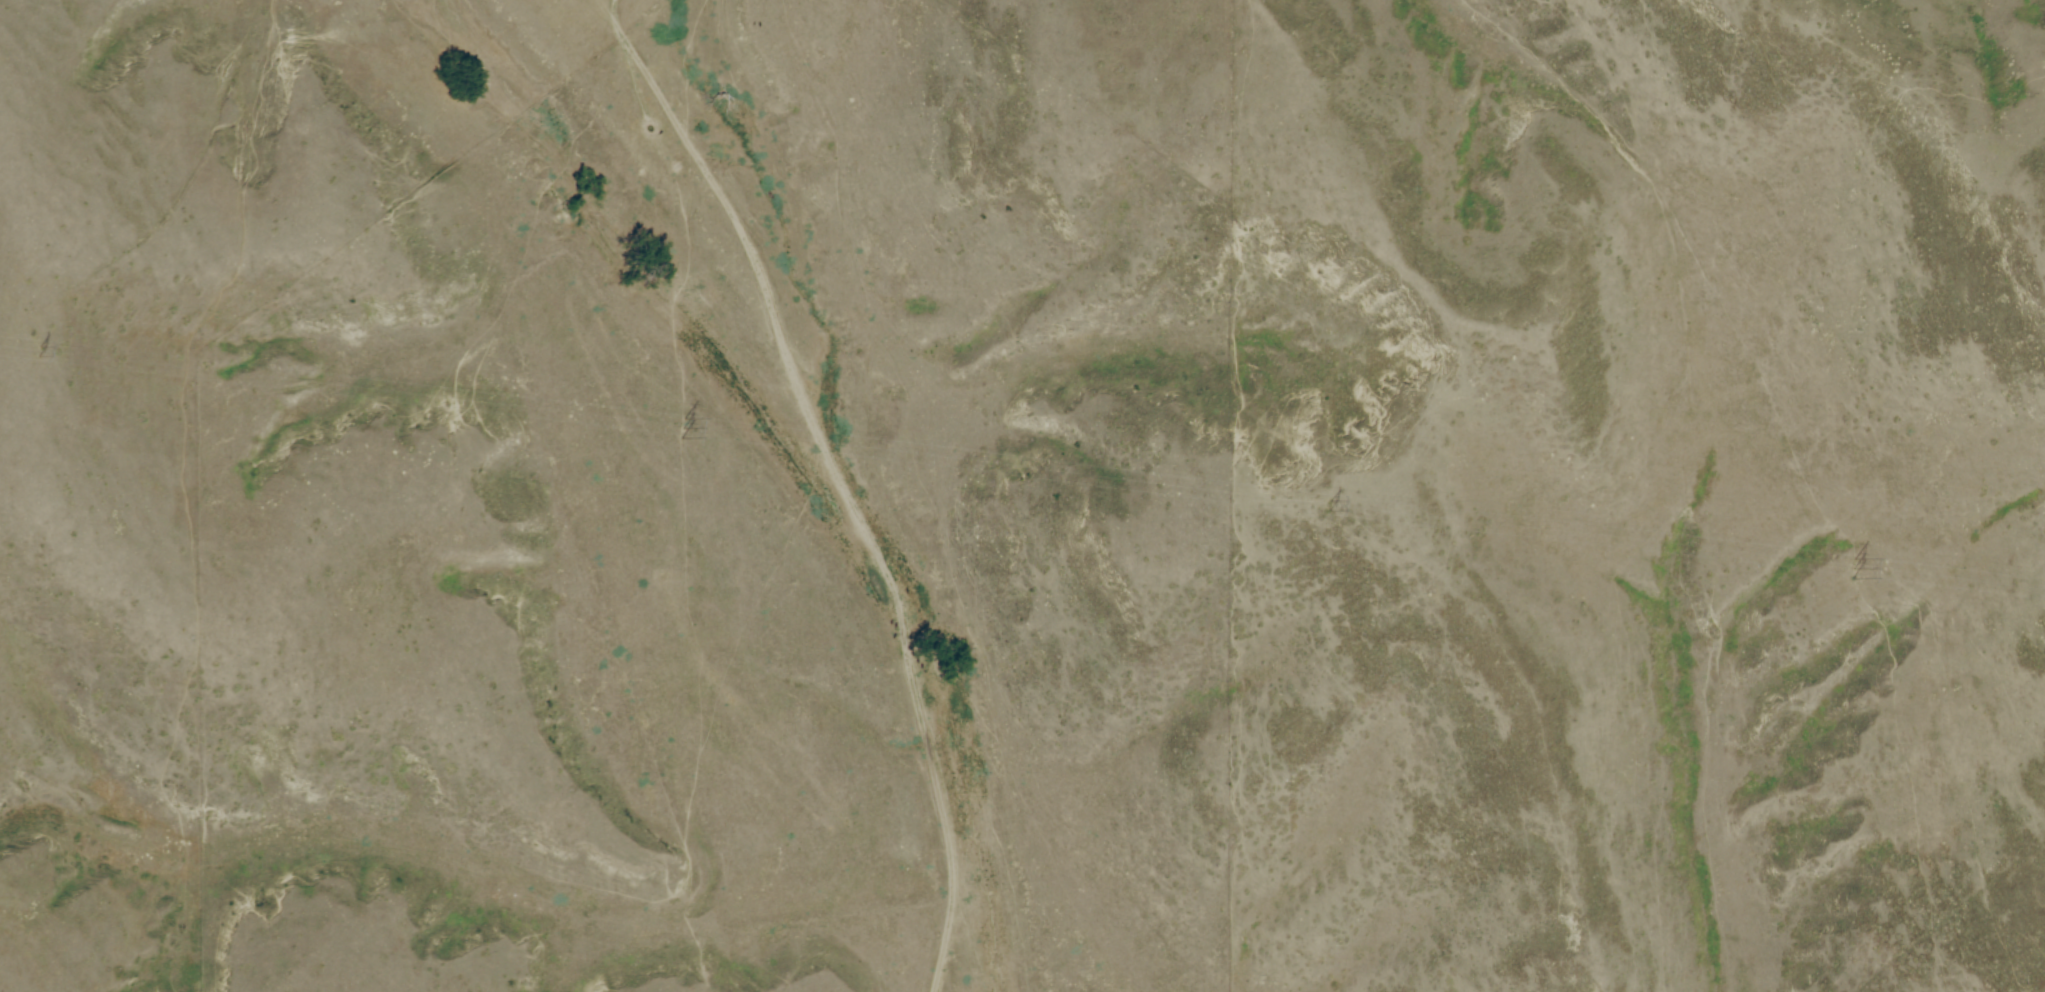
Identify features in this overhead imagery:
power tower: (38, 354)
power tower: (682, 430)
power tower: (1328, 508)
power tower: (1854, 570)

